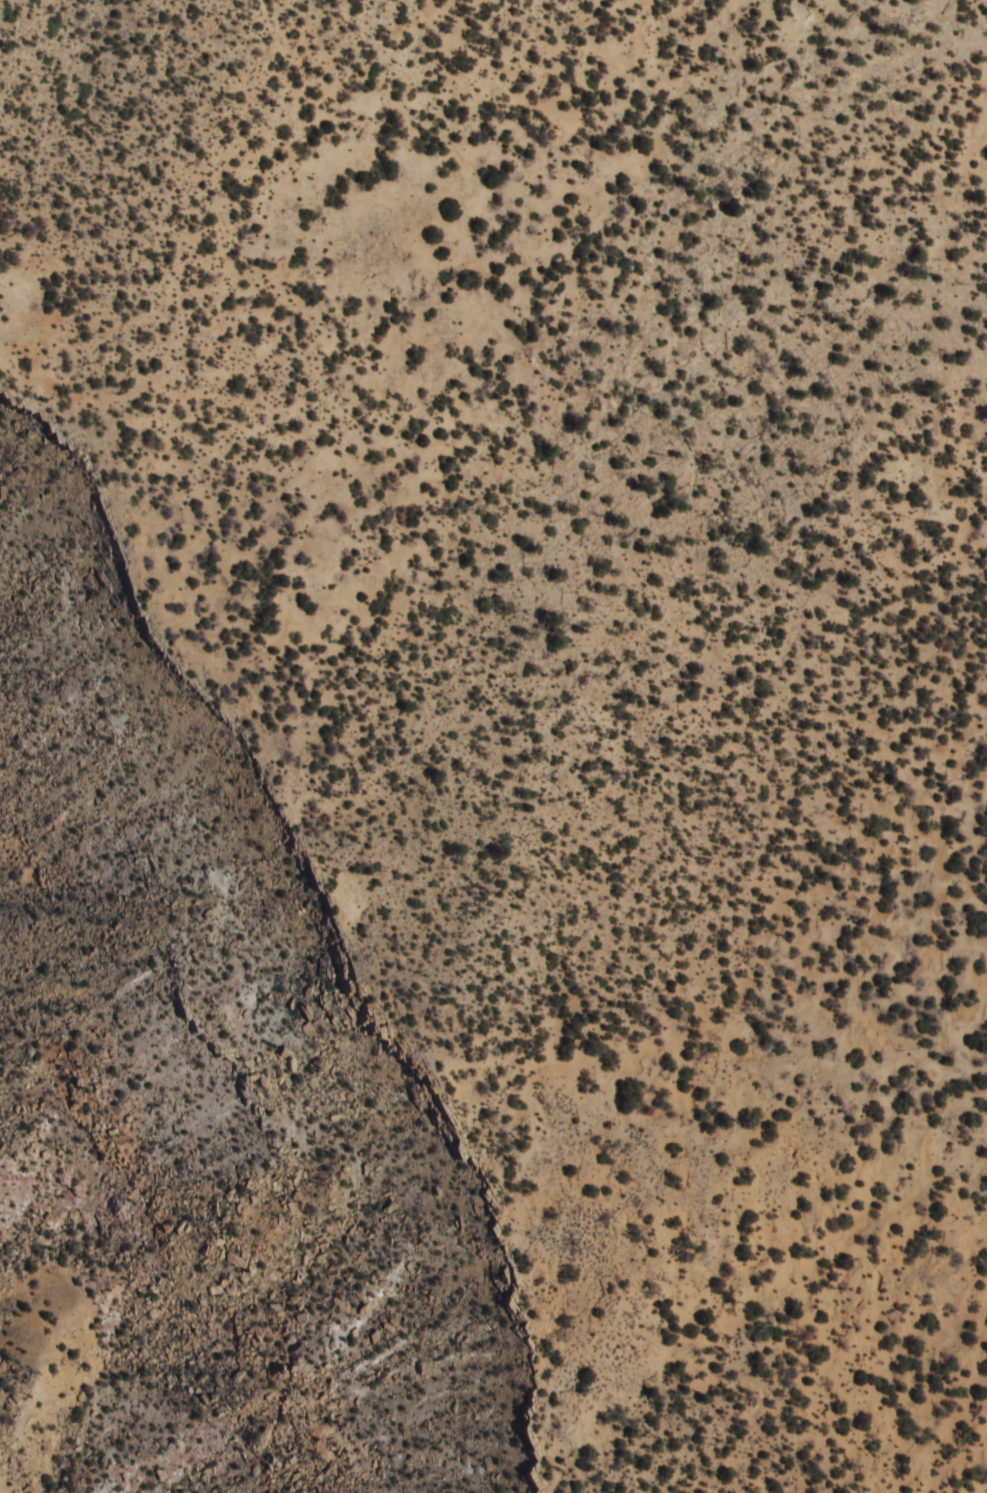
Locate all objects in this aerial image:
building: (803, 781)
building: (821, 793)
building: (757, 938)

